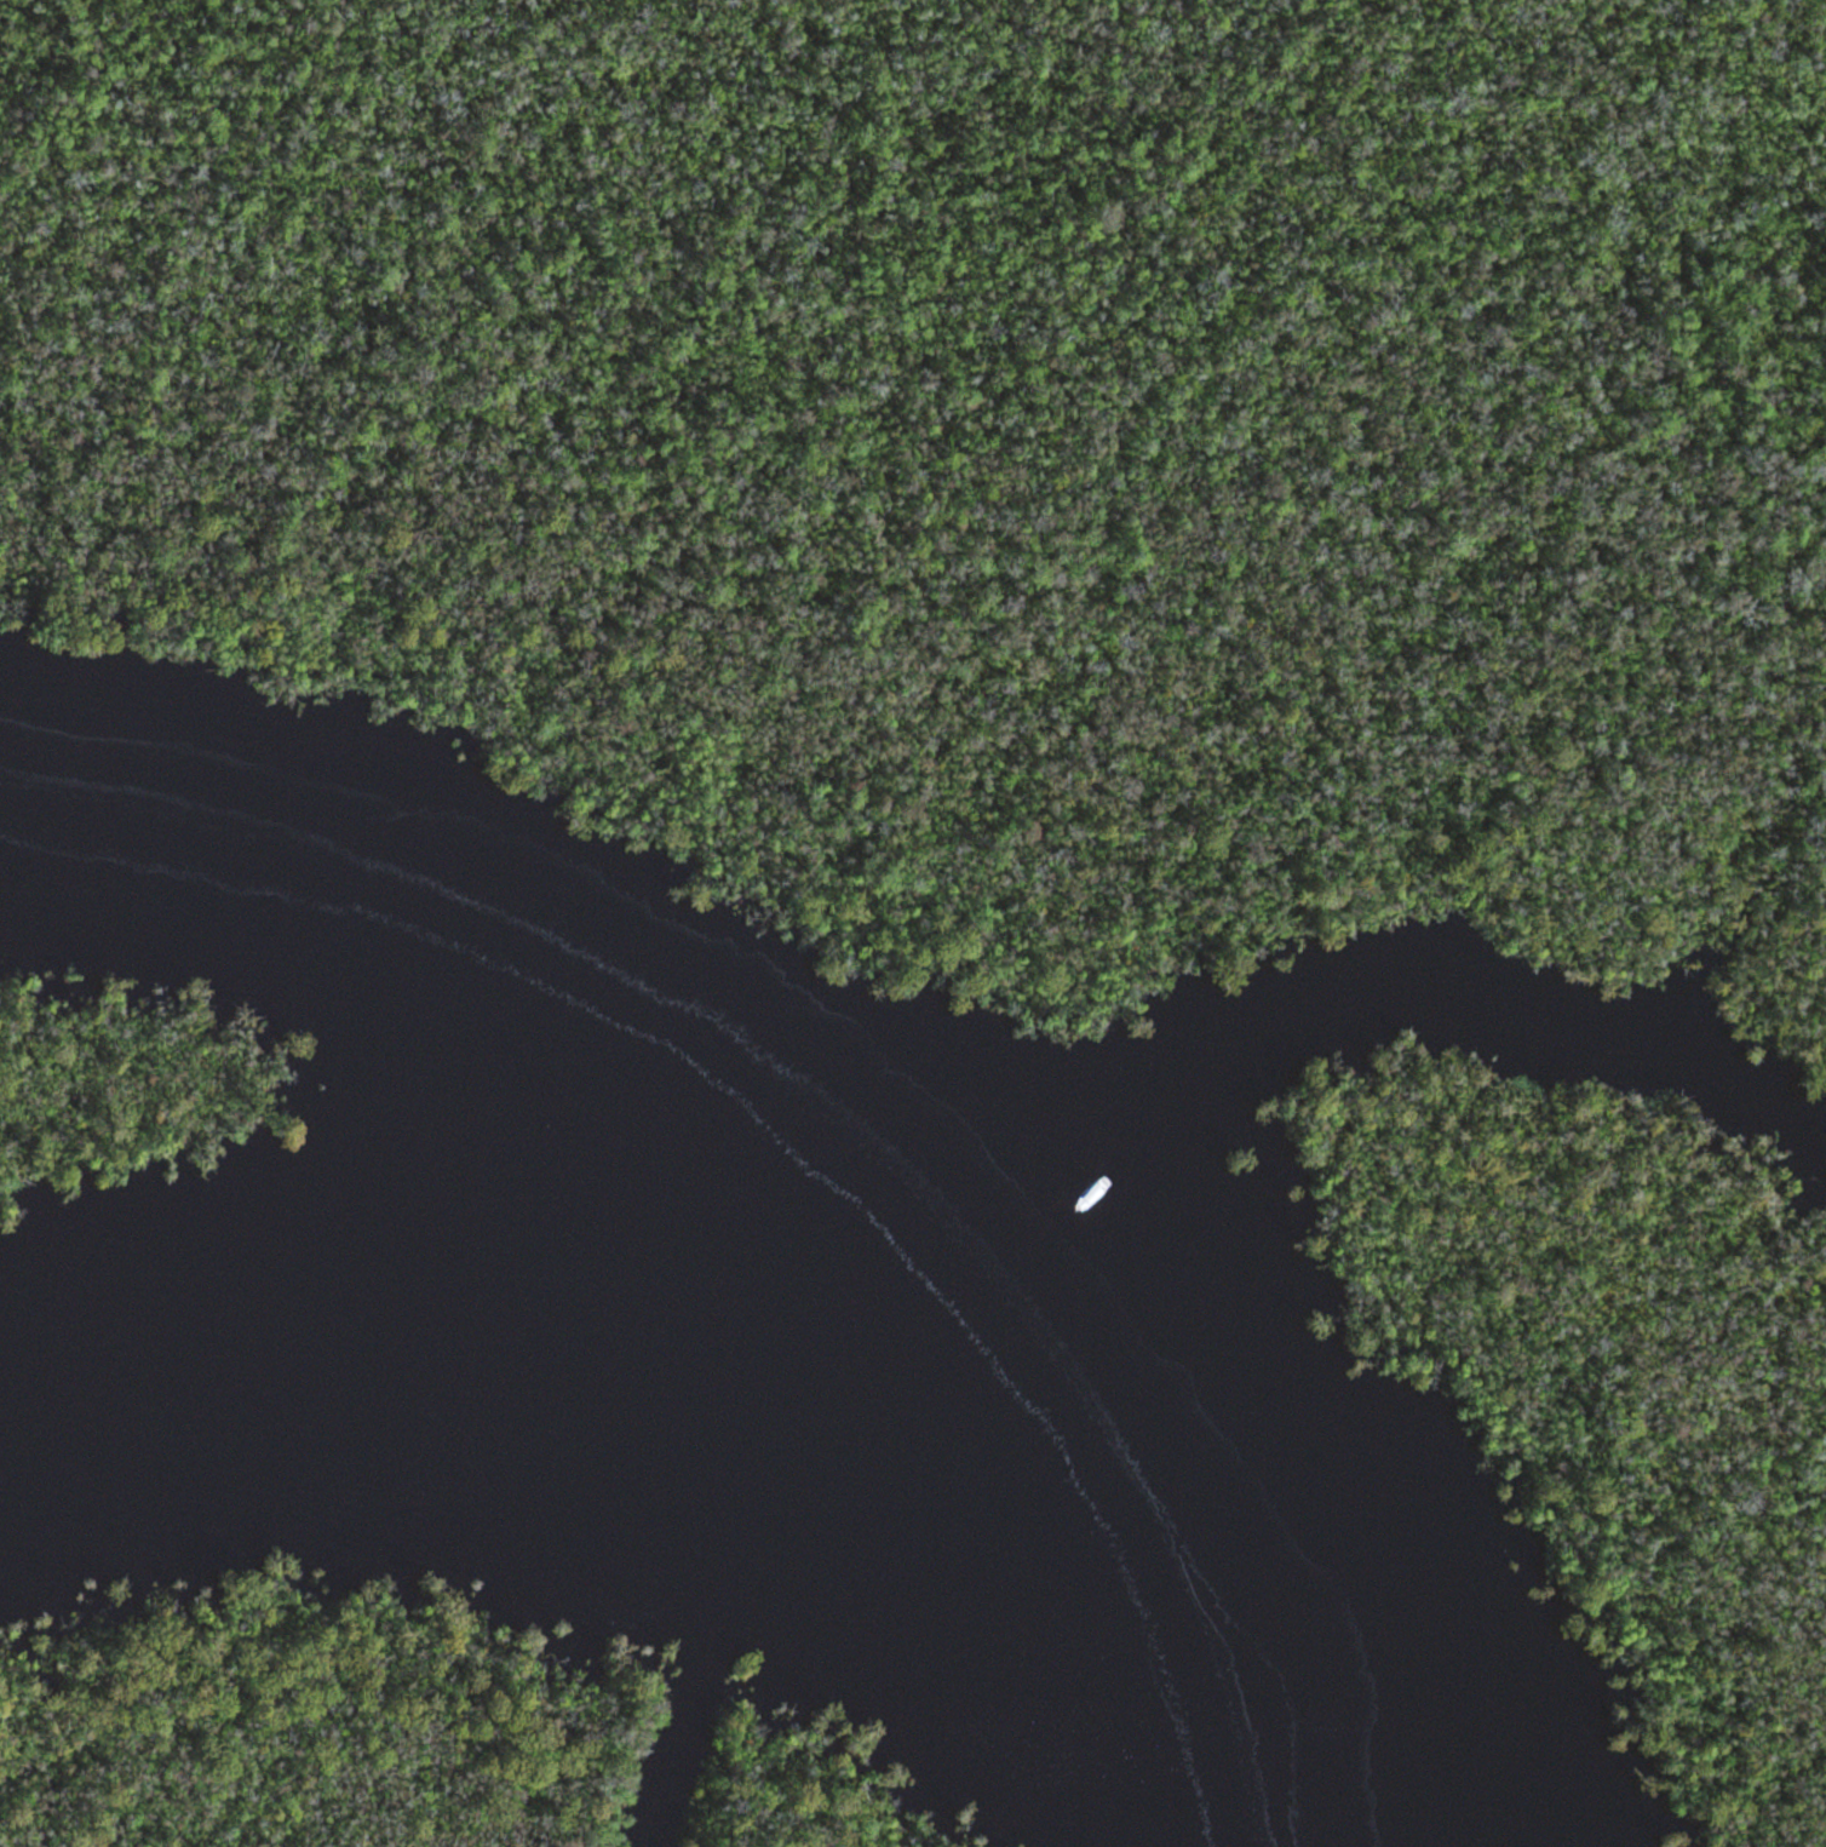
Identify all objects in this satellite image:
river: (707, 1441)

